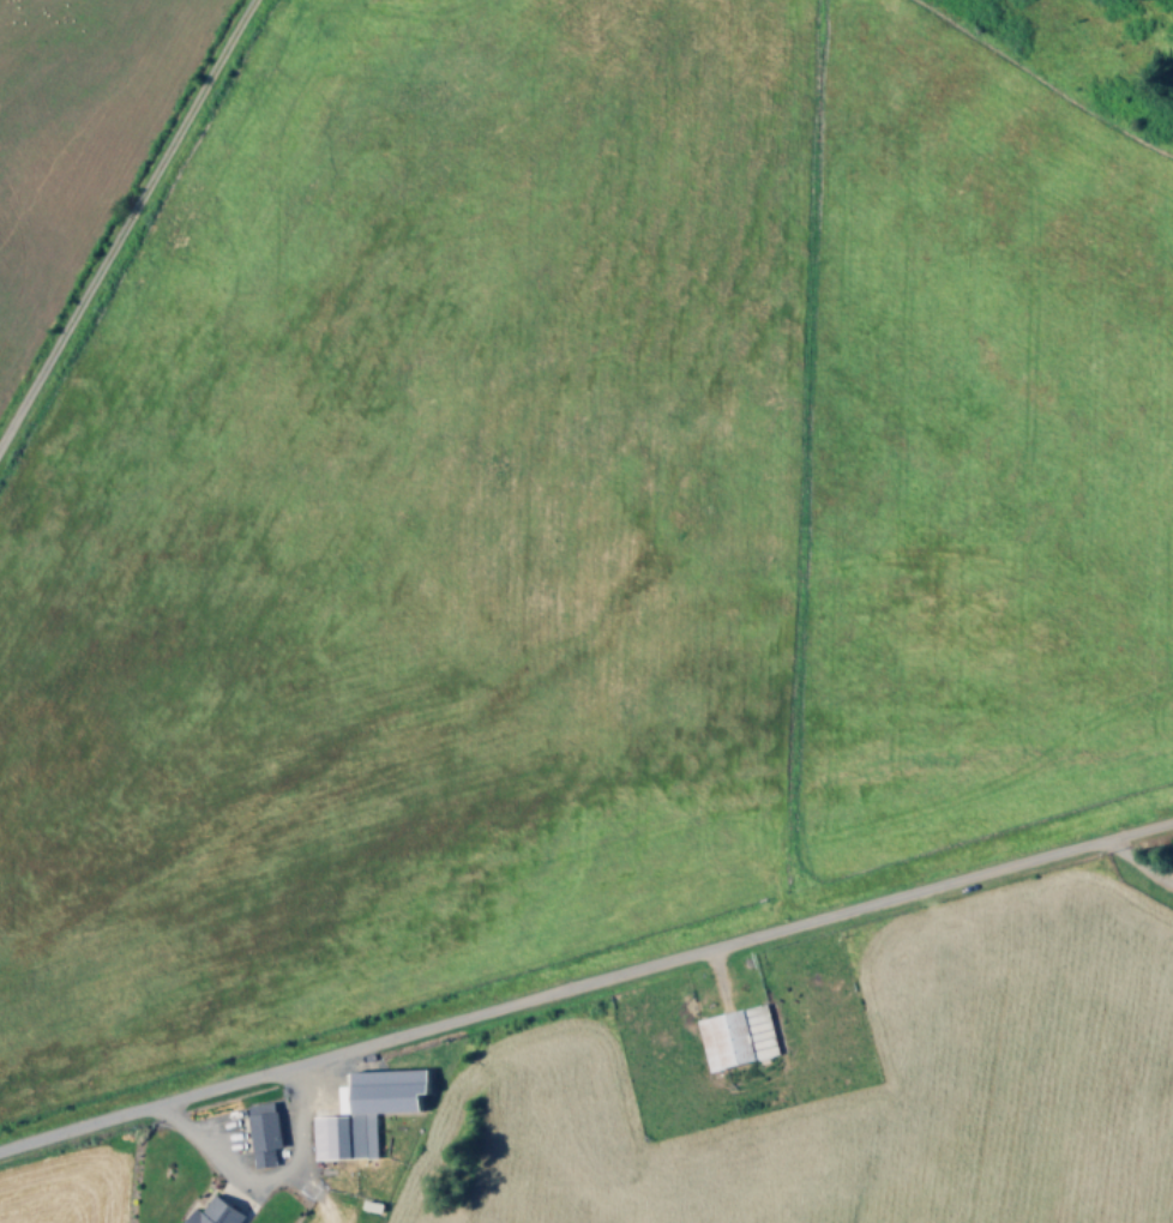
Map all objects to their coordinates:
road: (125, 219)
road: (1136, 861)
road: (717, 977)
road: (585, 981)
building: (739, 1037)
building: (369, 1111)
building: (265, 1132)
road: (252, 1177)
building: (218, 1212)

